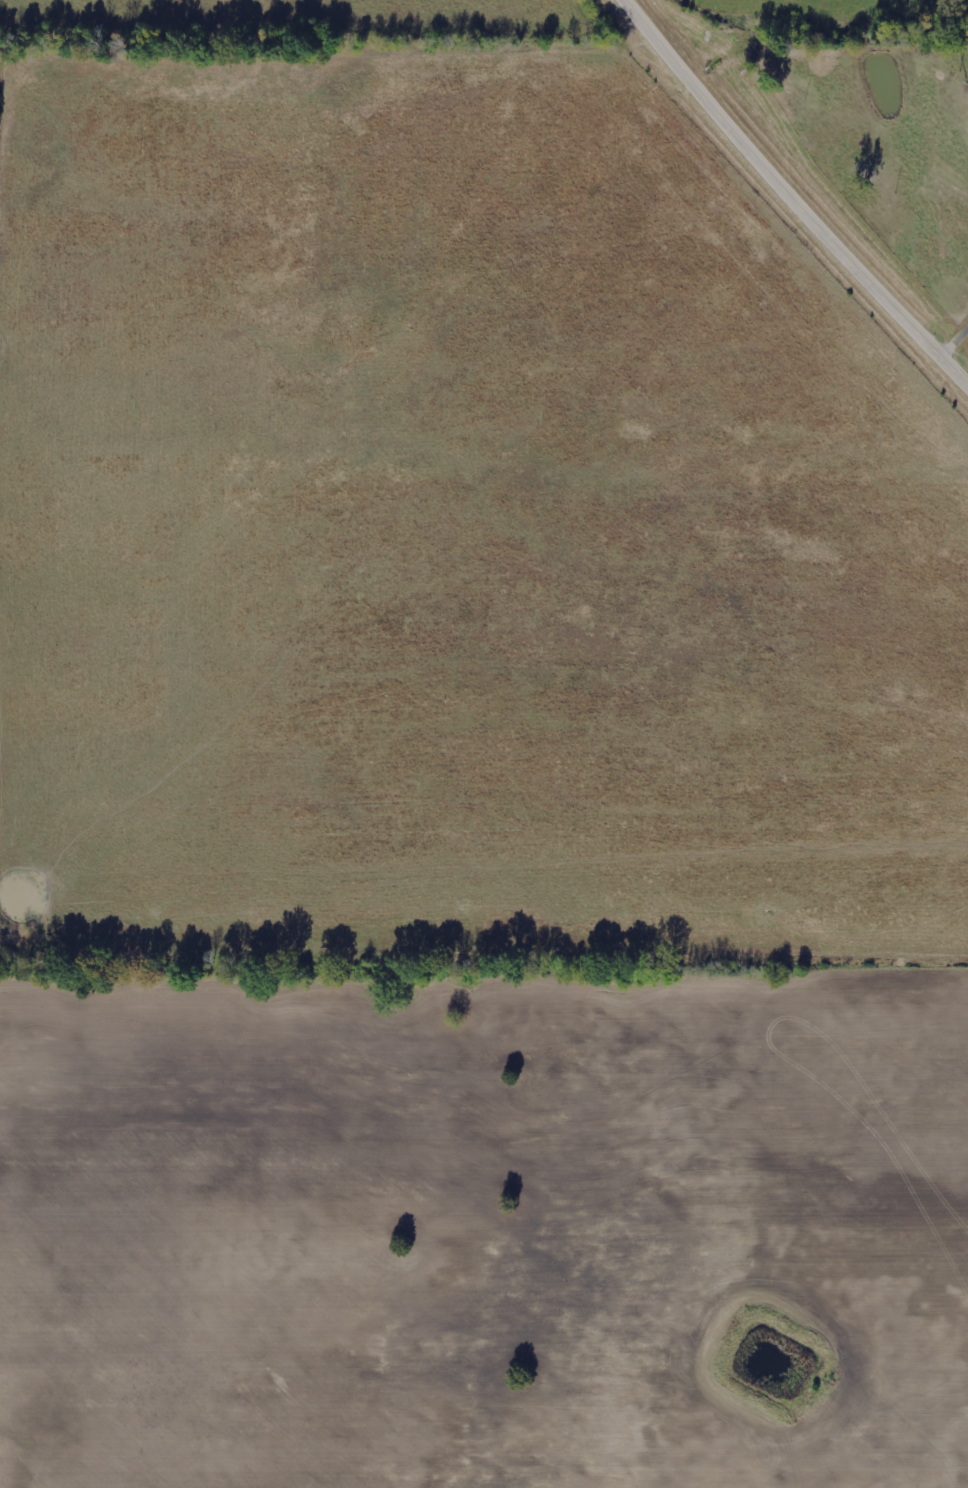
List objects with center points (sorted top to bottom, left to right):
road: (791, 198)

